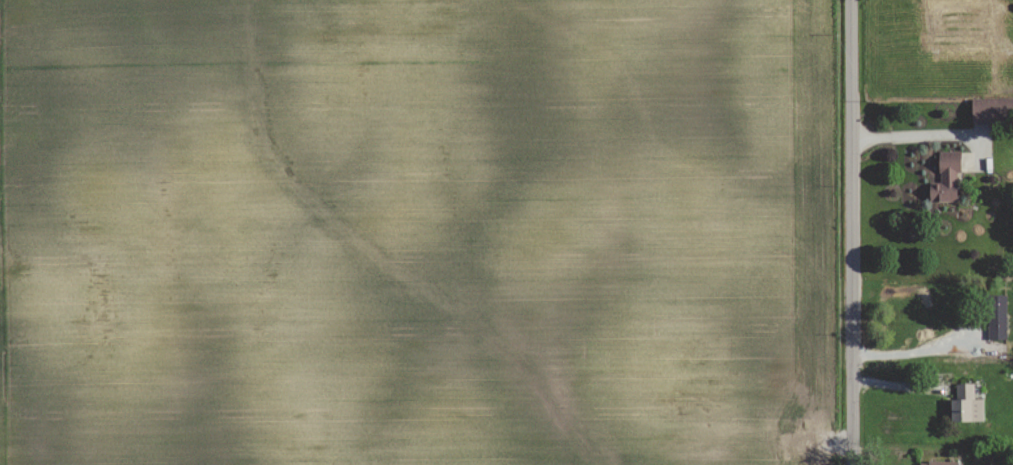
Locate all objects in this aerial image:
building: (993, 111)
road: (927, 135)
building: (947, 178)
road: (853, 232)
building: (998, 317)
road: (911, 354)
building: (966, 404)
building: (938, 463)

